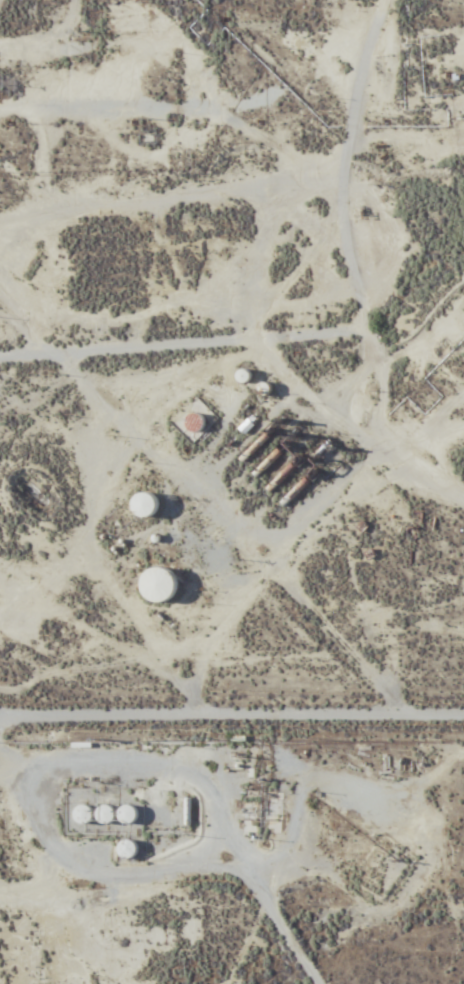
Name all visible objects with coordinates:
building: (191, 422)
building: (146, 505)
road: (232, 650)
building: (107, 813)
building: (84, 814)
building: (126, 814)
building: (128, 849)
road: (284, 918)

